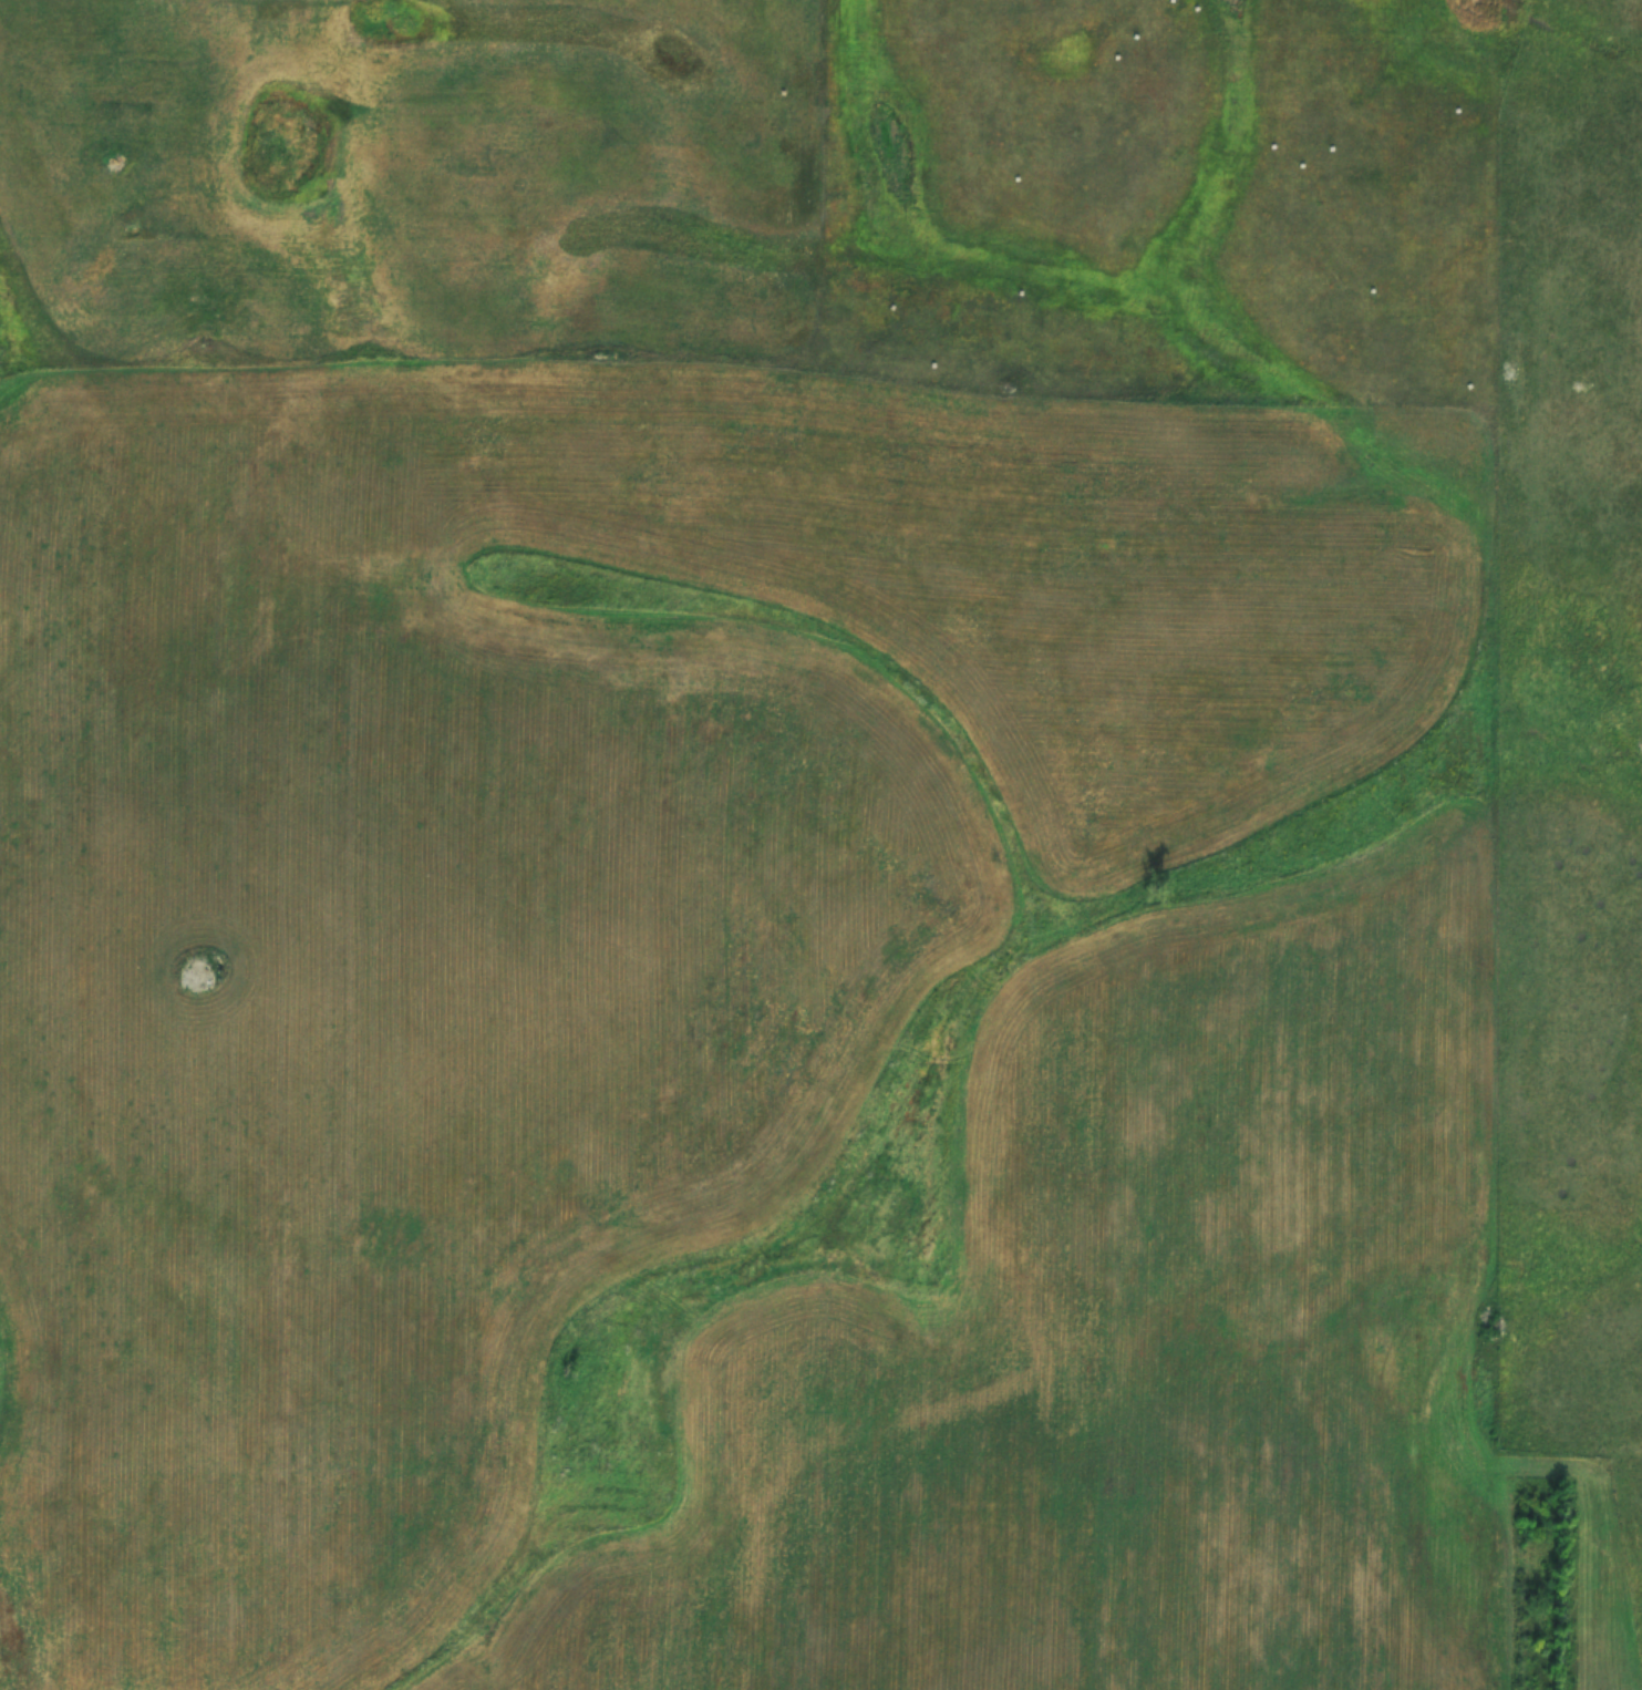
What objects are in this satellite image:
road: (820, 1469)

